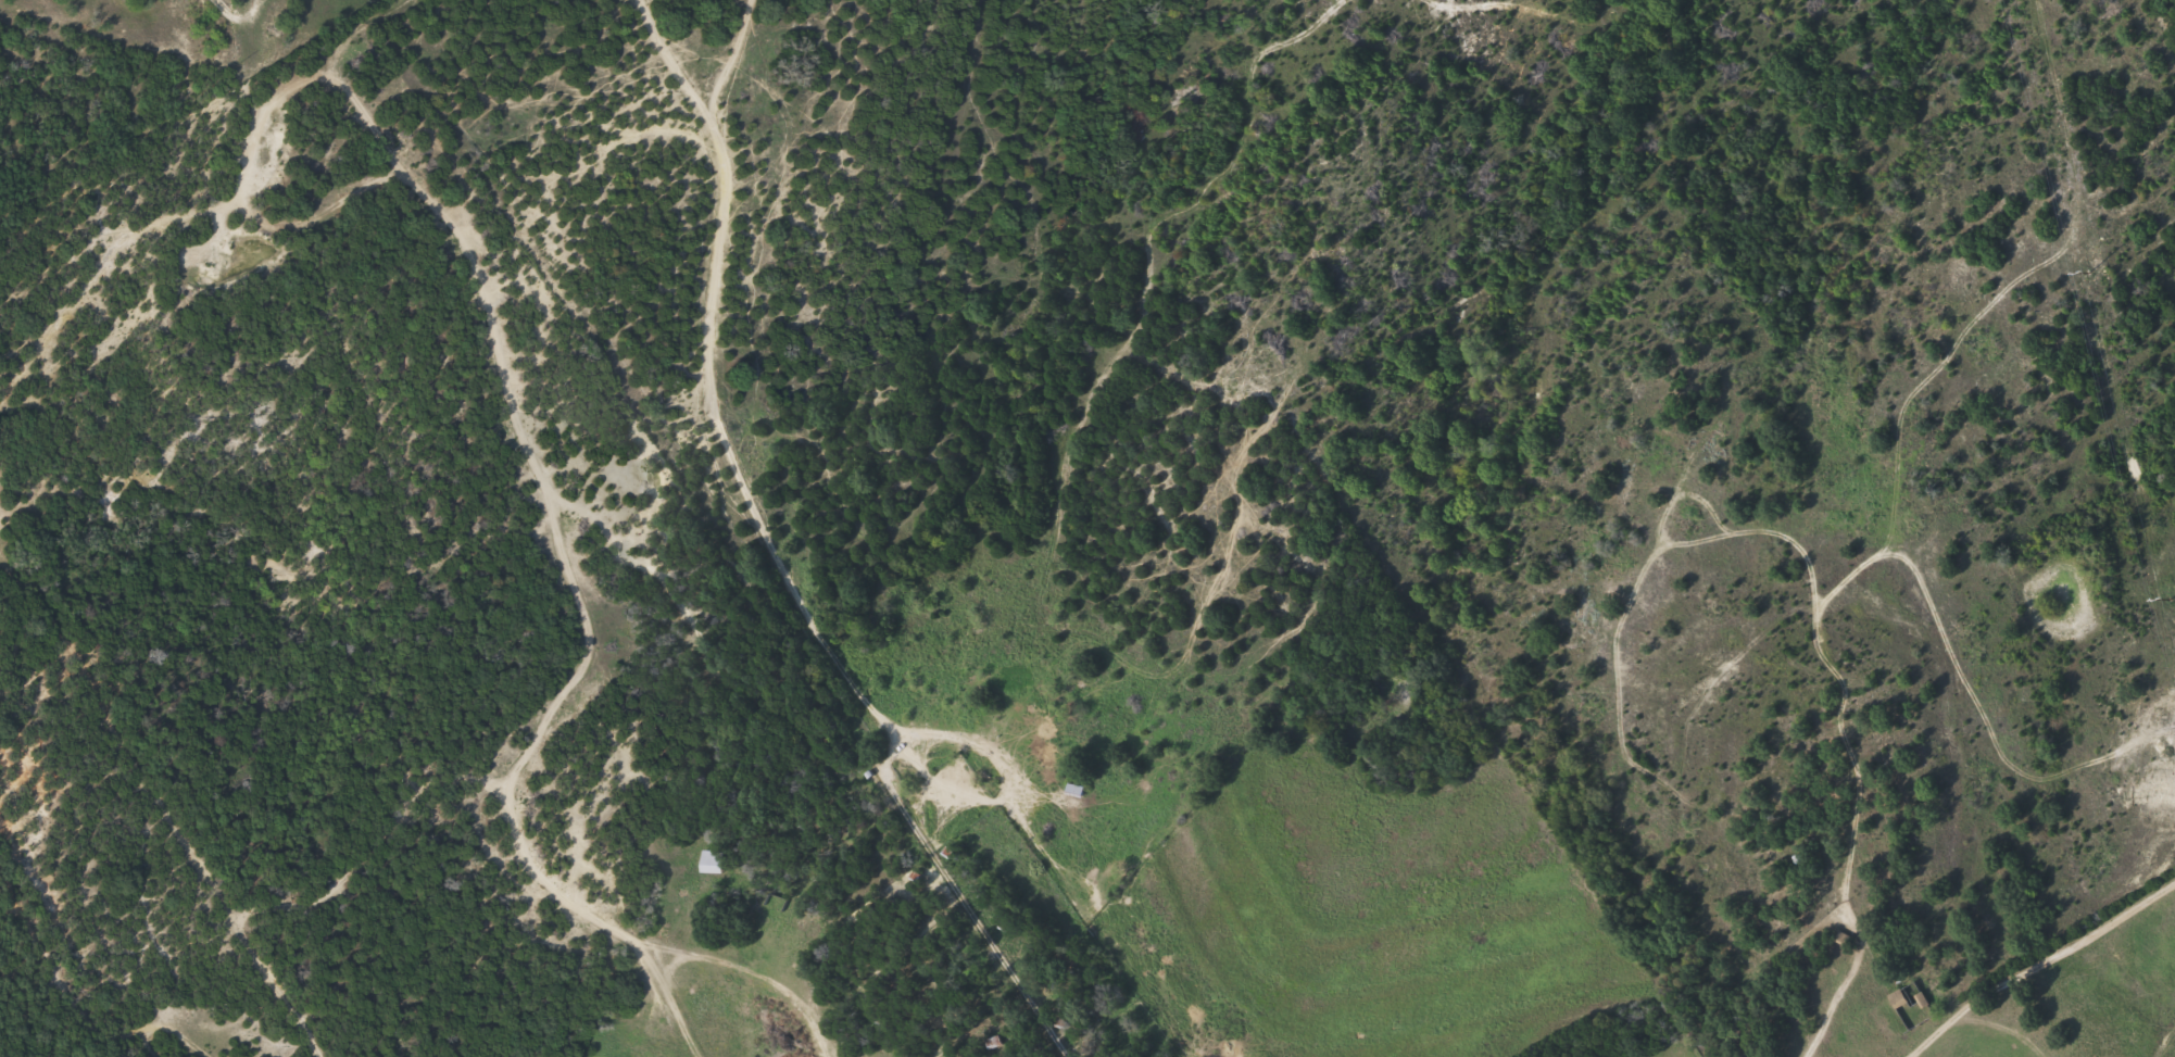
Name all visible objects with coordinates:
road: (732, 61)
road: (215, 210)
road: (153, 766)
road: (854, 777)
building: (1079, 791)
road: (510, 792)
building: (713, 861)
road: (669, 964)
road: (750, 970)
road: (2035, 971)
building: (1913, 1007)
building: (996, 1043)

